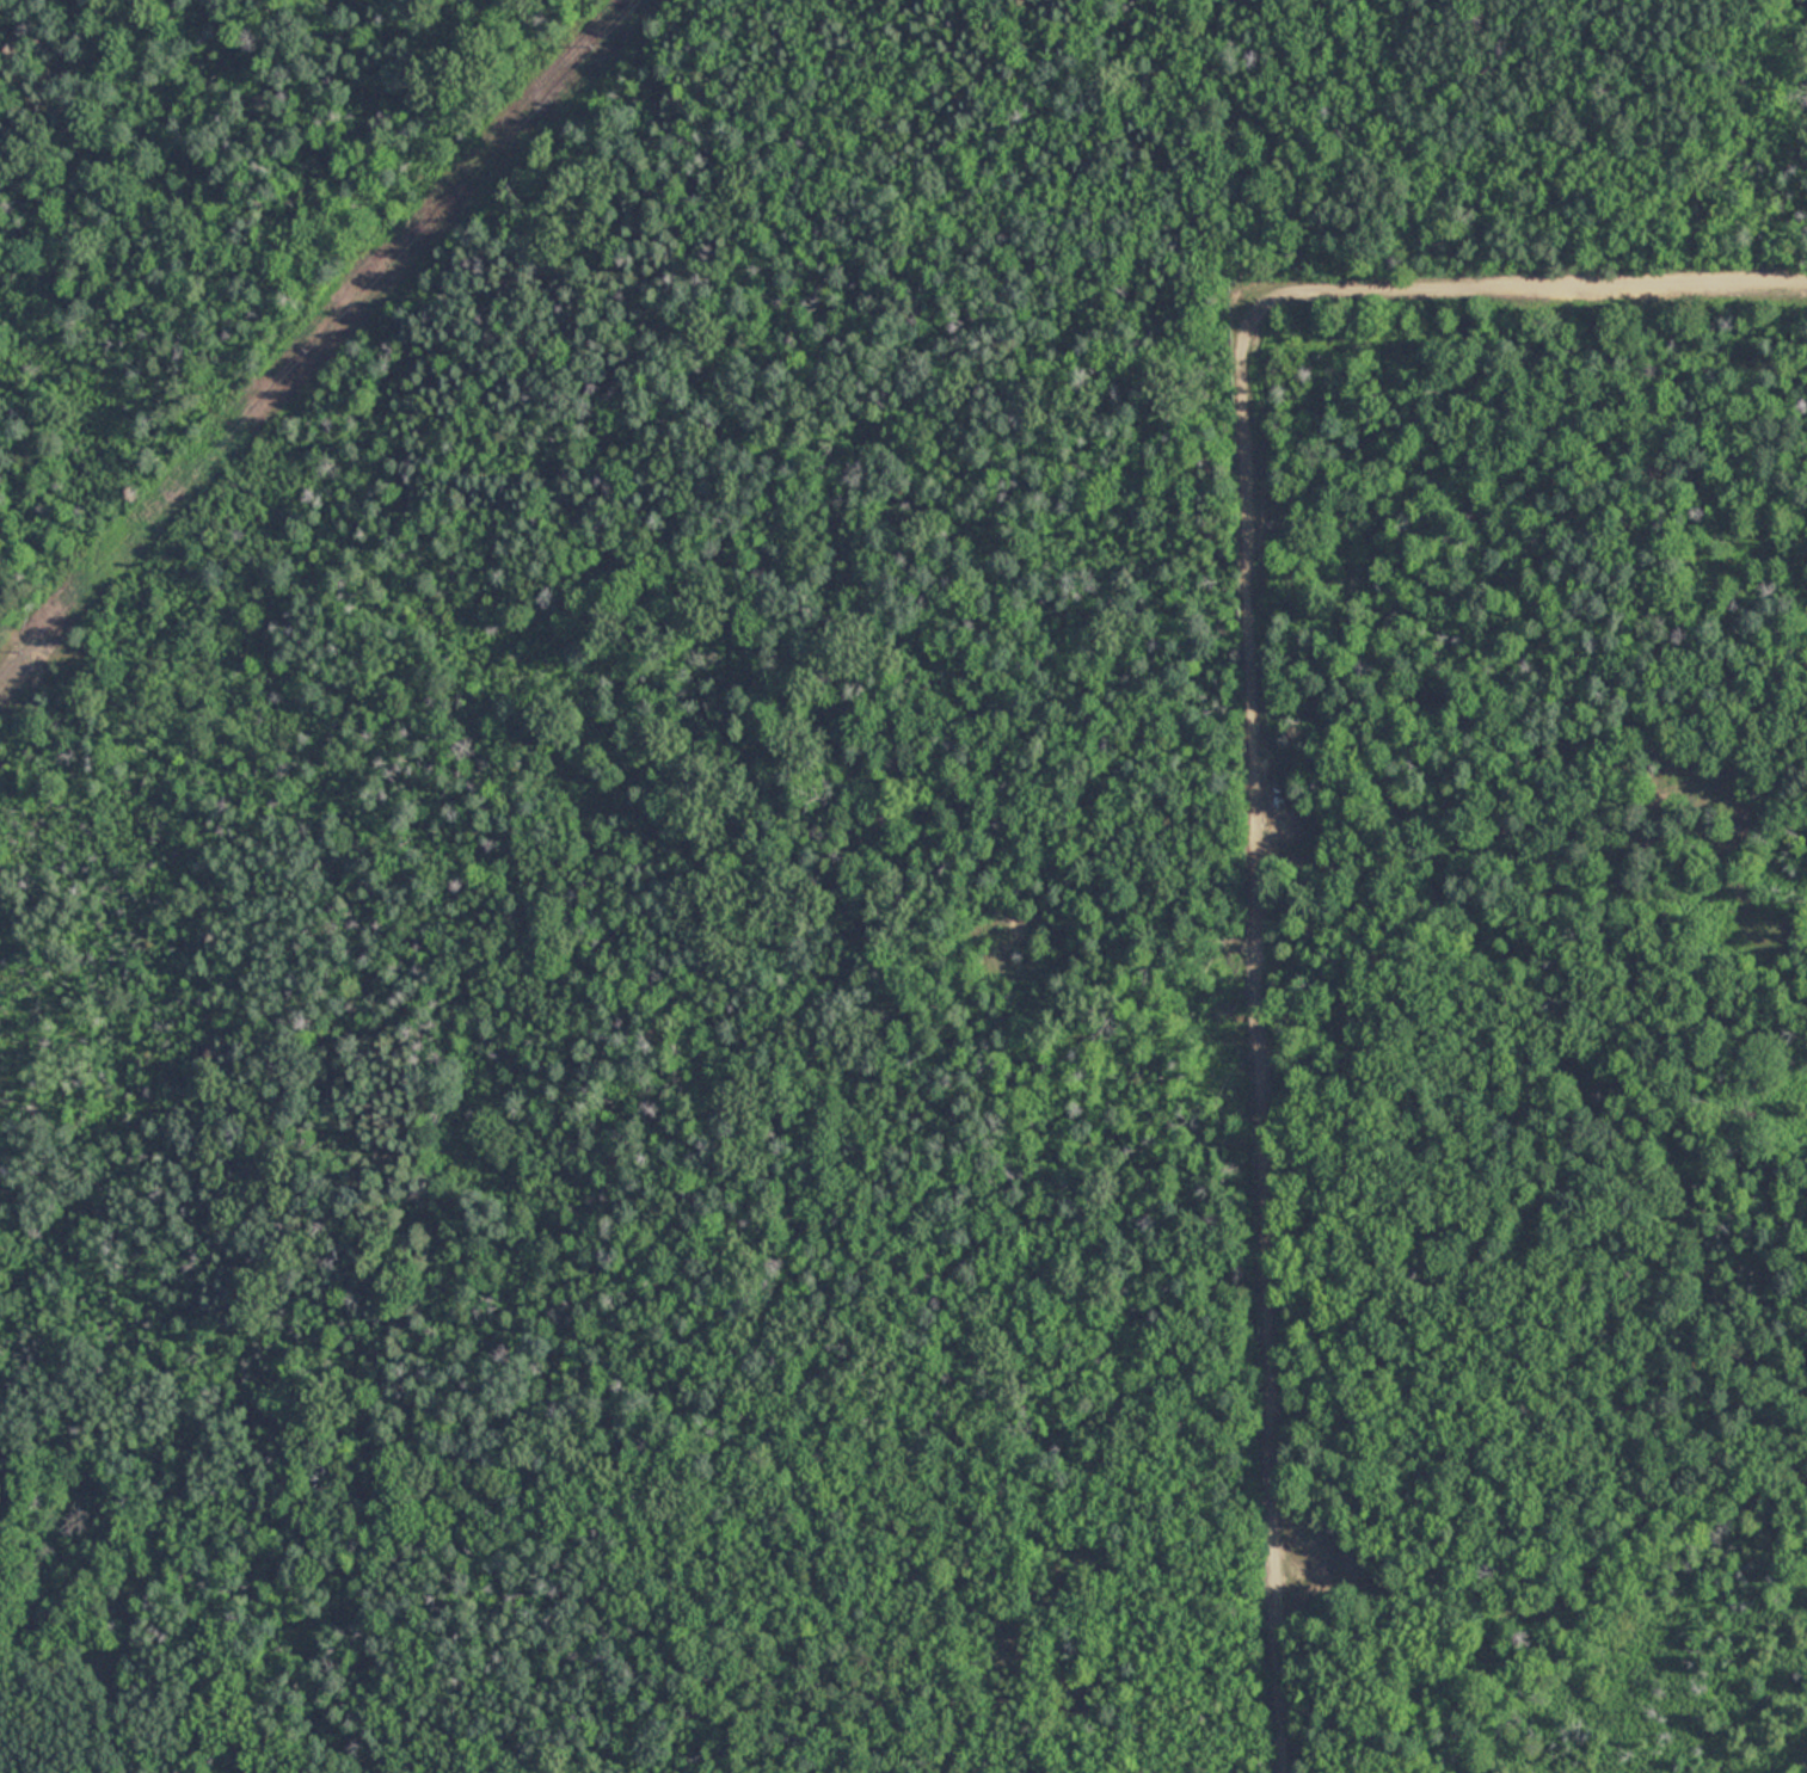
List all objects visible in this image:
park: (689, 839)

